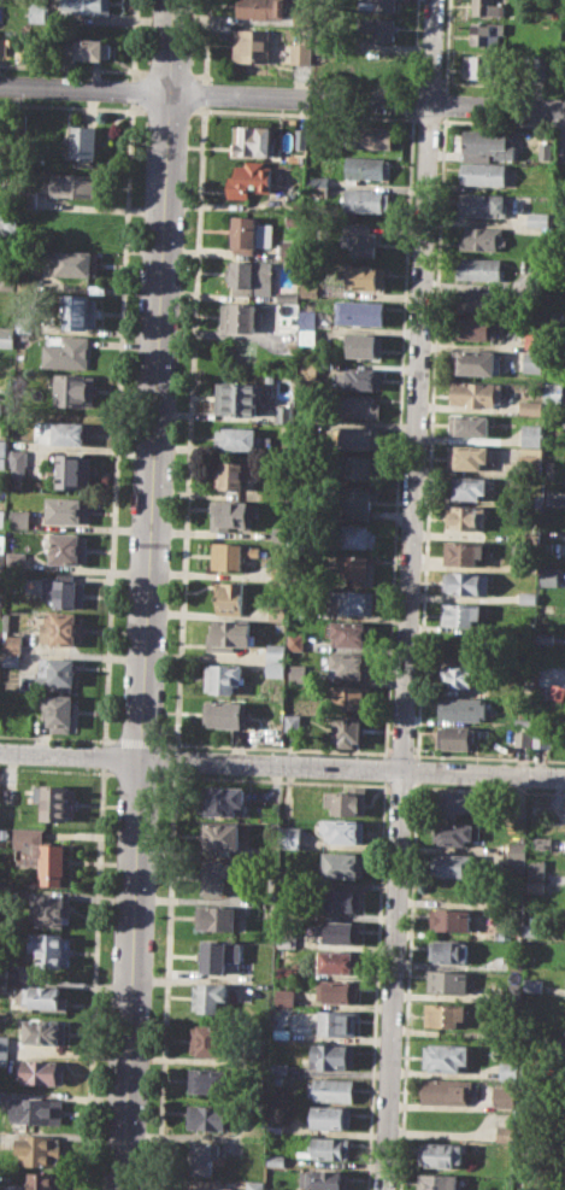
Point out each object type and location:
building: (377, 5)
building: (87, 6)
building: (260, 7)
building: (485, 7)
building: (39, 10)
building: (378, 27)
building: (487, 31)
road: (206, 41)
building: (251, 45)
road: (413, 45)
road: (446, 46)
building: (87, 47)
building: (301, 49)
road: (72, 66)
building: (482, 66)
road: (167, 70)
road: (198, 74)
road: (204, 93)
road: (282, 95)
road: (411, 100)
road: (443, 102)
road: (72, 106)
road: (169, 110)
road: (305, 113)
road: (429, 119)
road: (502, 122)
building: (302, 137)
building: (371, 137)
building: (252, 140)
building: (84, 141)
building: (487, 143)
building: (367, 166)
building: (483, 172)
building: (249, 180)
building: (76, 184)
building: (318, 184)
building: (30, 199)
building: (366, 199)
building: (483, 203)
building: (538, 218)
building: (7, 224)
building: (249, 233)
building: (483, 238)
building: (360, 240)
building: (76, 263)
building: (479, 268)
building: (249, 276)
building: (366, 276)
building: (6, 283)
building: (311, 289)
building: (478, 300)
building: (80, 311)
building: (360, 311)
building: (240, 316)
building: (308, 318)
building: (27, 322)
building: (473, 327)
building: (6, 336)
building: (308, 336)
building: (535, 340)
building: (365, 344)
building: (66, 352)
building: (477, 360)
building: (534, 360)
building: (361, 376)
building: (76, 389)
building: (476, 393)
building: (239, 395)
building: (360, 405)
building: (1, 406)
building: (531, 406)
building: (286, 412)
building: (469, 423)
road: (189, 426)
building: (69, 433)
road: (396, 434)
building: (531, 434)
road: (430, 435)
building: (359, 436)
building: (237, 438)
building: (2, 445)
building: (470, 457)
building: (18, 461)
building: (530, 461)
building: (2, 462)
building: (358, 465)
building: (72, 470)
building: (233, 474)
building: (467, 487)
building: (358, 502)
building: (66, 510)
building: (228, 514)
building: (1, 517)
building: (465, 517)
building: (18, 518)
building: (358, 533)
building: (530, 538)
building: (1, 543)
building: (65, 547)
building: (547, 549)
building: (465, 552)
building: (231, 555)
building: (358, 568)
building: (281, 570)
building: (549, 574)
building: (466, 582)
building: (64, 590)
road: (146, 594)
road: (408, 594)
building: (229, 597)
building: (528, 597)
building: (351, 602)
building: (0, 606)
building: (279, 609)
building: (460, 612)
building: (61, 628)
building: (230, 633)
building: (349, 633)
building: (0, 635)
building: (546, 637)
building: (12, 639)
building: (295, 640)
building: (12, 658)
building: (276, 660)
building: (348, 664)
building: (298, 673)
building: (55, 674)
building: (461, 675)
building: (222, 678)
building: (557, 691)
building: (540, 692)
building: (349, 698)
building: (463, 708)
building: (59, 711)
building: (225, 713)
building: (522, 721)
building: (293, 722)
building: (345, 729)
road: (57, 737)
building: (455, 737)
building: (542, 737)
building: (523, 738)
road: (137, 740)
road: (276, 748)
road: (401, 752)
road: (488, 757)
road: (175, 758)
road: (282, 763)
road: (383, 767)
road: (416, 769)
building: (225, 801)
building: (347, 801)
building: (55, 802)
building: (455, 803)
building: (519, 814)
building: (343, 830)
building: (4, 833)
building: (454, 833)
building: (220, 837)
building: (289, 837)
building: (41, 855)
building: (517, 855)
building: (454, 863)
building: (343, 864)
building: (536, 867)
building: (216, 875)
building: (287, 883)
building: (535, 886)
building: (341, 899)
building: (49, 909)
building: (216, 918)
building: (449, 919)
building: (531, 928)
building: (342, 932)
building: (284, 942)
building: (51, 949)
building: (447, 950)
building: (213, 954)
building: (339, 961)
building: (514, 965)
building: (1, 971)
building: (282, 971)
road: (165, 979)
building: (447, 980)
road: (373, 984)
building: (531, 984)
building: (2, 985)
road: (406, 985)
building: (337, 990)
building: (42, 997)
building: (208, 997)
building: (283, 997)
building: (443, 1014)
building: (336, 1021)
building: (43, 1031)
building: (279, 1032)
building: (211, 1039)
building: (255, 1048)
building: (2, 1049)
building: (331, 1055)
building: (443, 1056)
building: (278, 1067)
building: (42, 1071)
building: (506, 1071)
building: (208, 1079)
building: (276, 1081)
building: (330, 1089)
building: (445, 1089)
building: (504, 1095)
building: (36, 1109)
building: (207, 1115)
building: (330, 1116)
road: (520, 1120)
building: (275, 1125)
building: (504, 1132)
building: (0, 1136)
building: (326, 1148)
building: (36, 1149)
building: (440, 1154)
building: (202, 1156)
building: (275, 1159)
building: (324, 1178)
building: (42, 1180)
building: (436, 1182)
building: (253, 1184)
building: (206, 1188)

